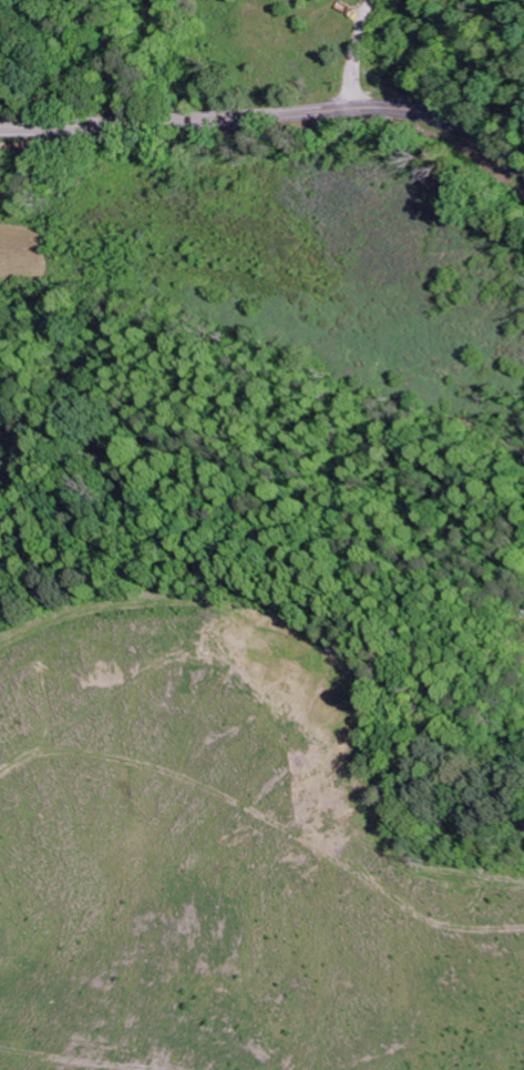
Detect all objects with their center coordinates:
road: (355, 63)
road: (269, 115)

